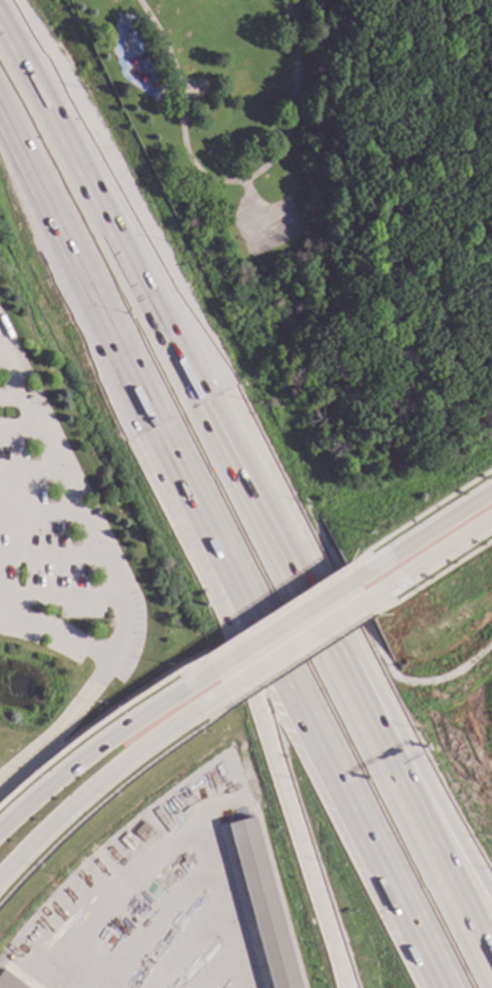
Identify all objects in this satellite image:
road: (15, 178)
road: (228, 181)
park: (245, 184)
road: (328, 257)
road: (9, 398)
road: (17, 427)
road: (28, 469)
road: (75, 509)
road: (38, 510)
road: (418, 516)
road: (423, 536)
parking lot: (56, 539)
road: (228, 540)
road: (50, 553)
road: (428, 558)
road: (356, 569)
road: (432, 576)
road: (207, 589)
road: (59, 596)
road: (228, 598)
road: (321, 605)
road: (276, 612)
road: (283, 625)
road: (57, 630)
road: (375, 644)
road: (293, 645)
road: (299, 658)
road: (97, 724)
road: (61, 725)
road: (101, 744)
road: (104, 776)
road: (107, 796)
building: (259, 904)
building: (6, 982)

